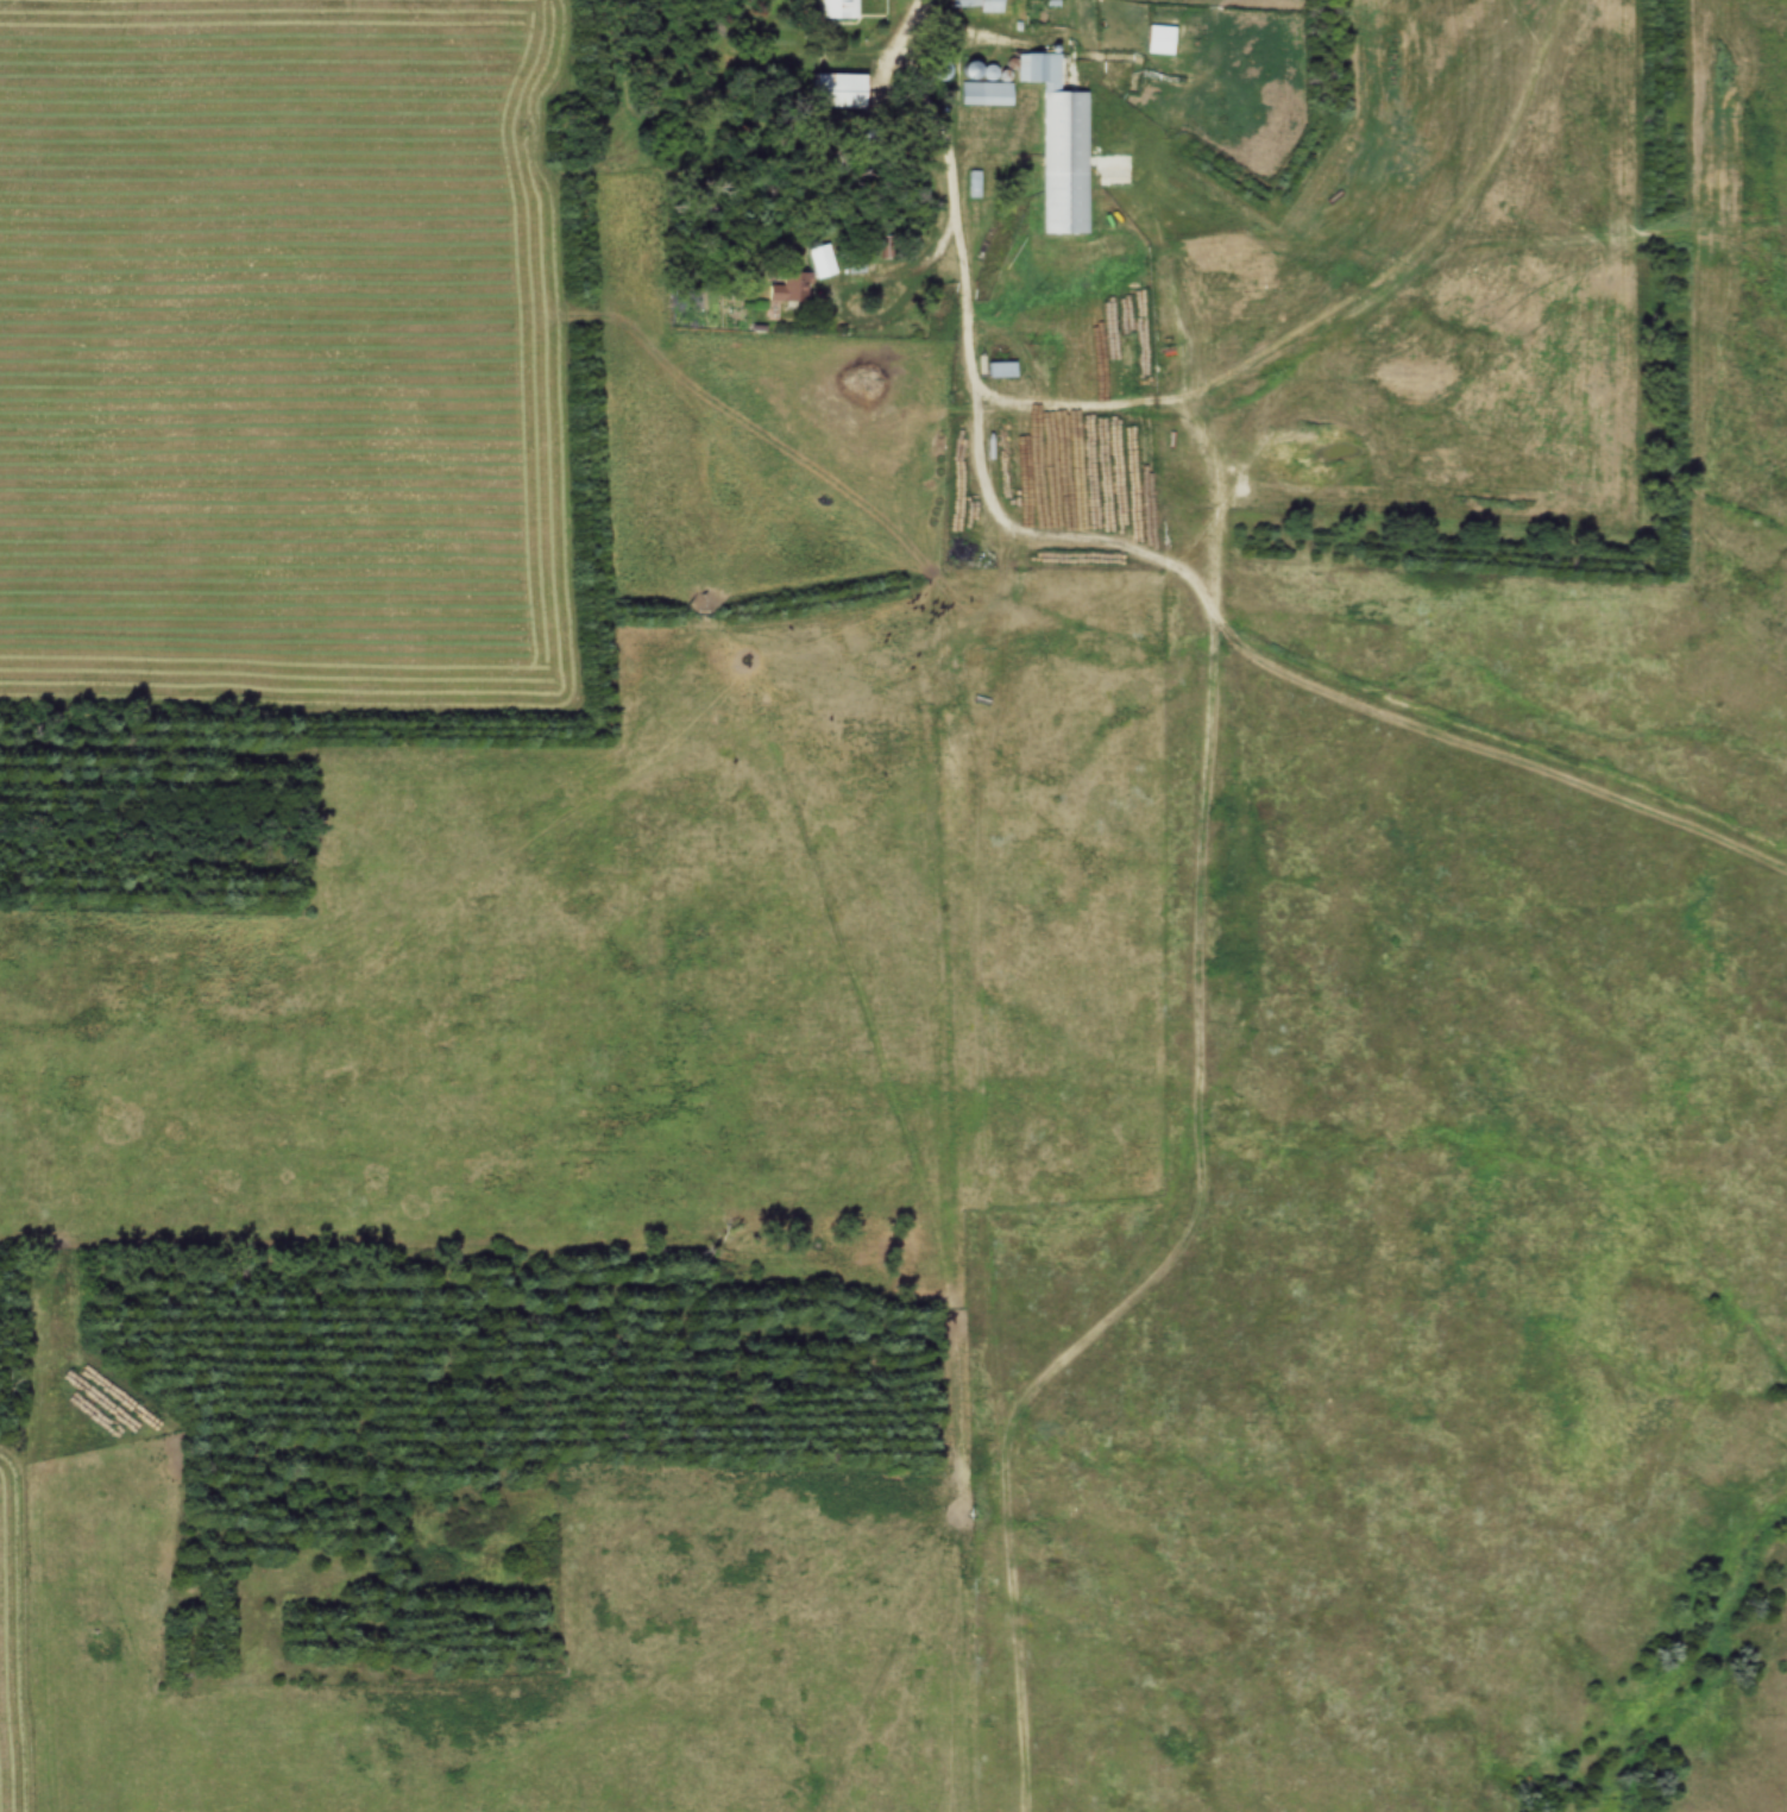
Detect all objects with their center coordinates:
building: (977, 5)
building: (836, 8)
building: (1158, 38)
building: (832, 89)
building: (983, 94)
road: (942, 117)
building: (1057, 146)
building: (818, 259)
building: (782, 291)
building: (998, 369)

